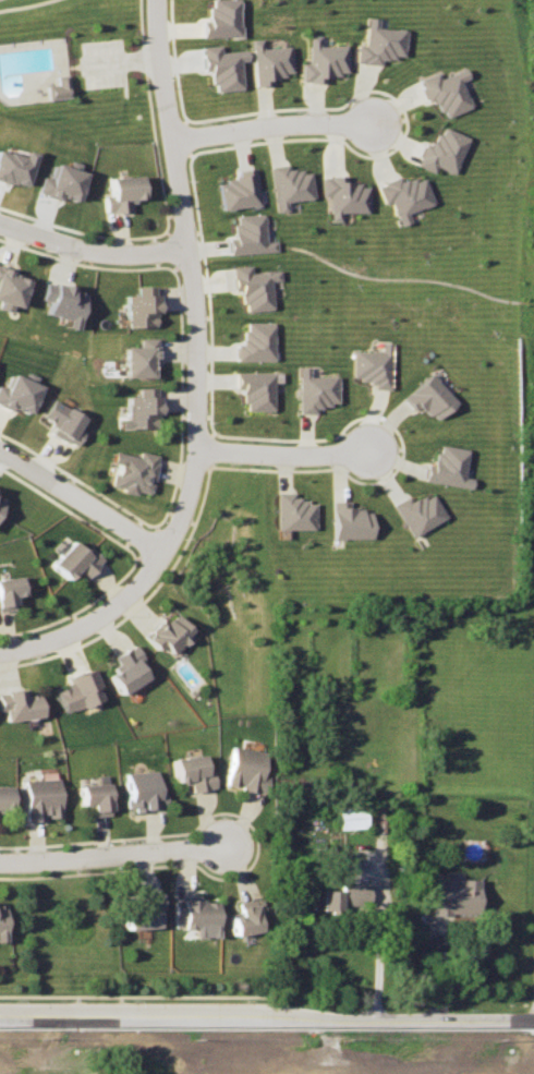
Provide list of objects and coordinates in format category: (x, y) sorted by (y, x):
building: (217, 15)
building: (376, 39)
building: (318, 56)
building: (268, 57)
road: (141, 58)
parking lot: (104, 61)
building: (219, 61)
building: (440, 87)
building: (61, 88)
road: (271, 121)
building: (438, 146)
building: (15, 167)
building: (288, 178)
building: (61, 183)
building: (239, 183)
building: (121, 186)
building: (399, 188)
building: (340, 189)
building: (245, 230)
road: (92, 249)
road: (191, 277)
building: (7, 280)
building: (251, 281)
building: (58, 295)
building: (135, 303)
building: (253, 336)
building: (135, 351)
building: (368, 360)
building: (253, 383)
building: (313, 386)
building: (15, 387)
building: (426, 390)
building: (136, 408)
building: (60, 413)
road: (284, 449)
building: (440, 461)
building: (129, 466)
road: (80, 495)
building: (1, 499)
building: (413, 506)
building: (292, 507)
building: (348, 517)
building: (73, 555)
building: (10, 583)
road: (93, 619)
building: (170, 632)
building: (129, 667)
building: (82, 690)
building: (22, 703)
building: (192, 767)
building: (246, 769)
building: (142, 785)
building: (5, 788)
building: (94, 792)
building: (39, 793)
building: (351, 817)
road: (113, 854)
building: (342, 894)
building: (457, 895)
building: (144, 908)
building: (194, 908)
building: (245, 917)
building: (2, 918)
road: (376, 918)
road: (436, 970)
road: (266, 1019)

